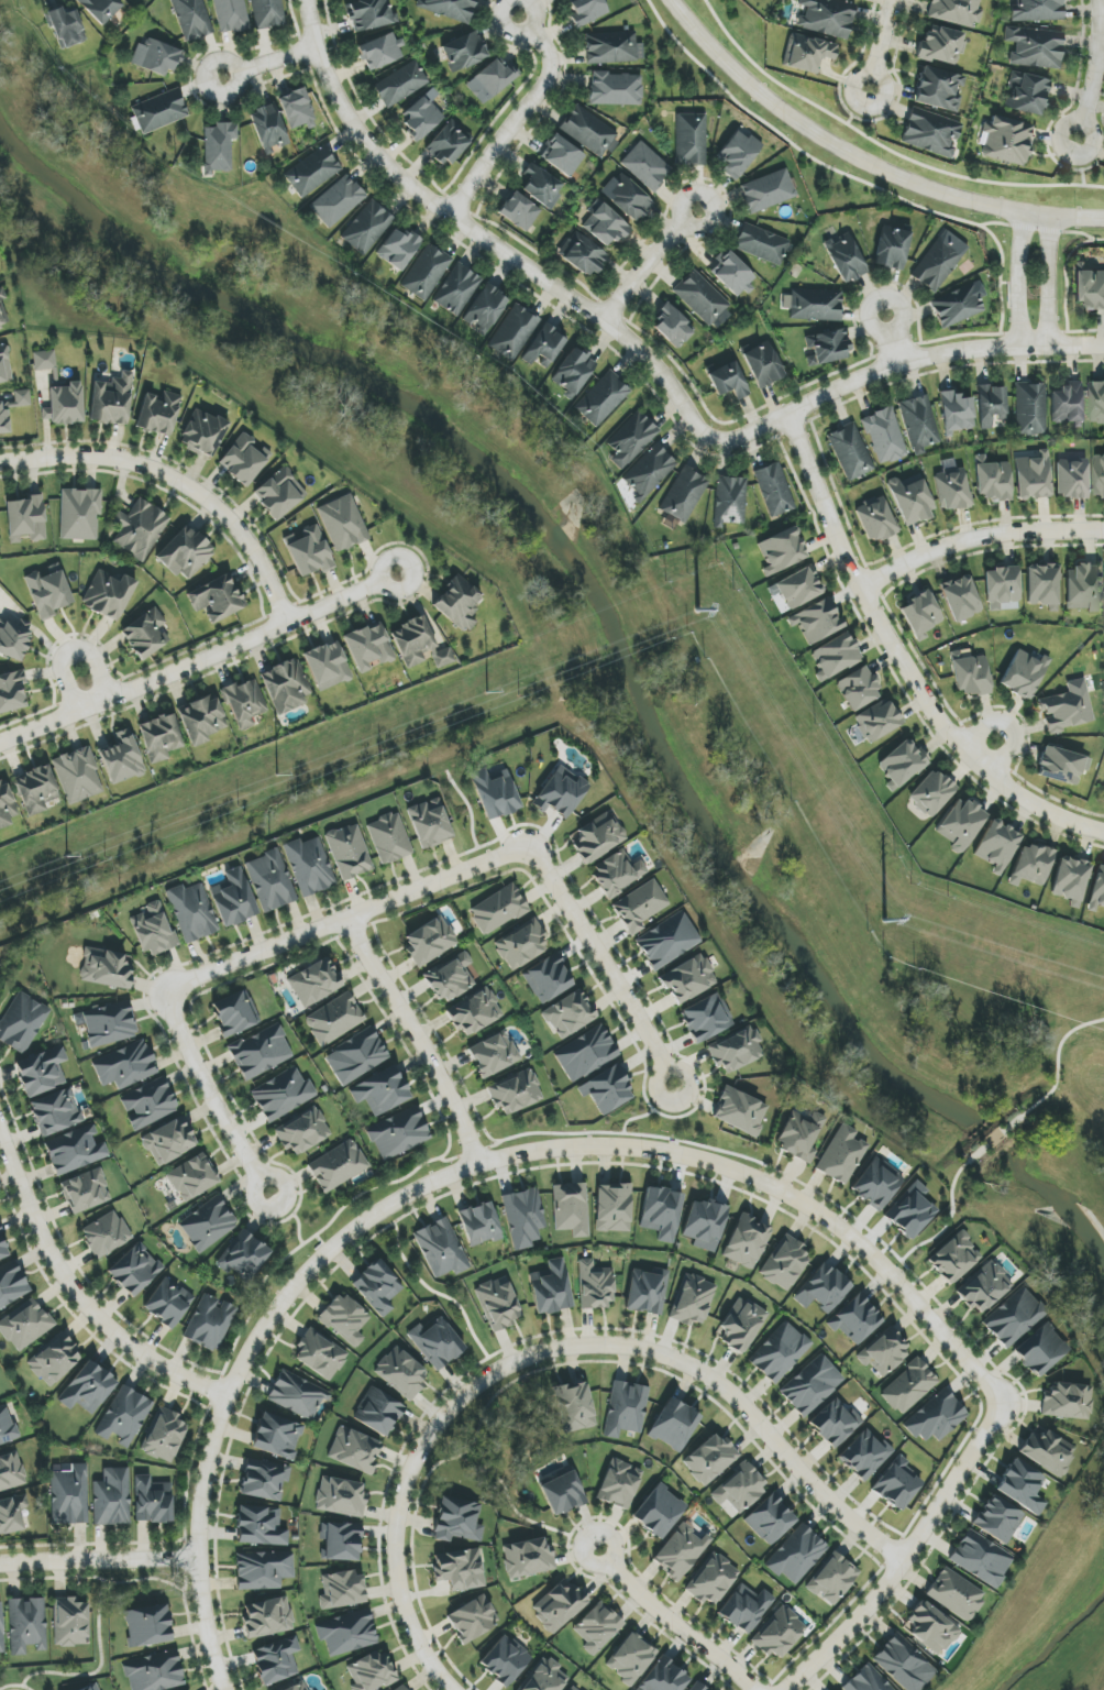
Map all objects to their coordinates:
building: (854, 0)
building: (101, 9)
building: (451, 9)
building: (1037, 10)
building: (587, 11)
building: (954, 12)
building: (267, 13)
building: (369, 14)
building: (231, 15)
building: (827, 17)
building: (191, 19)
building: (66, 26)
road: (883, 41)
building: (940, 45)
building: (1036, 47)
building: (612, 48)
building: (380, 52)
building: (464, 52)
building: (807, 53)
building: (156, 56)
road: (269, 61)
road: (1094, 70)
building: (492, 80)
building: (400, 84)
building: (616, 89)
building: (939, 89)
building: (1028, 94)
building: (297, 109)
building: (159, 111)
road: (518, 116)
building: (421, 117)
building: (268, 128)
building: (588, 131)
building: (931, 132)
building: (691, 139)
building: (1006, 140)
building: (448, 143)
building: (219, 147)
building: (738, 154)
building: (562, 156)
road: (862, 161)
building: (647, 166)
building: (312, 172)
building: (540, 186)
building: (768, 191)
building: (628, 198)
building: (336, 201)
building: (519, 211)
building: (608, 226)
building: (366, 227)
road: (487, 239)
building: (761, 244)
building: (893, 248)
building: (397, 249)
building: (585, 256)
building: (846, 259)
building: (940, 262)
road: (651, 263)
building: (424, 272)
building: (733, 275)
road: (1024, 283)
road: (1049, 283)
building: (1090, 289)
building: (702, 298)
building: (813, 305)
building: (958, 306)
building: (485, 308)
building: (2, 310)
building: (673, 327)
road: (890, 340)
building: (826, 348)
building: (44, 360)
road: (905, 361)
building: (4, 365)
building: (763, 365)
building: (575, 374)
building: (728, 381)
building: (22, 398)
building: (111, 399)
building: (601, 399)
building: (1096, 403)
building: (66, 404)
building: (1067, 404)
building: (991, 405)
building: (1030, 407)
building: (158, 413)
building: (957, 413)
building: (4, 418)
building: (919, 424)
building: (203, 434)
building: (884, 436)
building: (631, 440)
building: (850, 452)
building: (244, 459)
building: (650, 471)
building: (1099, 475)
building: (1034, 476)
building: (1072, 478)
road: (178, 481)
building: (993, 481)
building: (774, 490)
building: (952, 490)
building: (279, 494)
building: (684, 495)
building: (910, 500)
building: (730, 501)
building: (79, 514)
building: (26, 518)
building: (876, 520)
building: (343, 523)
building: (139, 529)
road: (978, 539)
building: (782, 551)
building: (186, 552)
building: (310, 552)
building: (1042, 585)
building: (798, 588)
building: (1001, 588)
building: (1082, 588)
building: (48, 593)
building: (108, 594)
building: (217, 599)
building: (961, 599)
building: (459, 604)
power tower: (697, 612)
building: (921, 613)
building: (817, 621)
building: (146, 634)
building: (13, 636)
building: (419, 645)
building: (368, 647)
road: (73, 651)
building: (836, 656)
road: (903, 660)
road: (197, 662)
building: (328, 666)
building: (970, 674)
building: (1026, 674)
building: (286, 685)
building: (859, 689)
building: (12, 692)
power tower: (486, 696)
building: (245, 703)
building: (1068, 707)
building: (202, 718)
building: (877, 721)
road: (1008, 725)
building: (161, 737)
building: (122, 758)
building: (902, 764)
building: (1062, 766)
building: (78, 775)
power tower: (276, 778)
building: (36, 789)
building: (561, 792)
building: (495, 793)
building: (931, 793)
building: (5, 805)
building: (429, 823)
building: (961, 824)
building: (598, 836)
building: (389, 838)
building: (997, 846)
building: (349, 852)
power tower: (67, 858)
building: (1031, 865)
building: (309, 866)
building: (617, 873)
building: (1071, 879)
building: (271, 881)
building: (1097, 891)
building: (233, 898)
building: (640, 907)
building: (498, 910)
building: (191, 912)
road: (347, 917)
power tower: (883, 923)
building: (153, 931)
building: (430, 941)
building: (667, 941)
building: (521, 945)
road: (605, 965)
building: (106, 968)
building: (452, 978)
building: (548, 979)
building: (687, 979)
building: (314, 983)
building: (475, 1012)
building: (235, 1013)
building: (570, 1014)
building: (706, 1018)
building: (334, 1019)
building: (21, 1022)
building: (109, 1024)
road: (419, 1036)
building: (736, 1050)
building: (261, 1052)
building: (586, 1053)
building: (494, 1054)
building: (356, 1056)
building: (125, 1066)
building: (41, 1071)
road: (219, 1089)
building: (607, 1090)
building: (380, 1091)
building: (516, 1093)
building: (283, 1095)
building: (148, 1104)
building: (56, 1111)
building: (740, 1111)
road: (644, 1116)
building: (302, 1131)
building: (398, 1134)
building: (801, 1135)
building: (168, 1141)
building: (75, 1150)
building: (841, 1155)
building: (338, 1166)
road: (460, 1170)
building: (192, 1177)
building: (876, 1184)
building: (86, 1190)
building: (612, 1208)
building: (571, 1209)
building: (910, 1211)
building: (661, 1212)
building: (523, 1217)
building: (208, 1225)
building: (479, 1225)
building: (705, 1225)
building: (106, 1234)
building: (746, 1241)
building: (2, 1249)
building: (441, 1249)
building: (243, 1256)
building: (954, 1258)
building: (784, 1263)
building: (134, 1270)
building: (12, 1284)
building: (595, 1286)
building: (378, 1287)
building: (984, 1287)
building: (551, 1288)
building: (823, 1290)
building: (648, 1291)
road: (75, 1292)
road: (434, 1293)
building: (693, 1301)
building: (168, 1303)
building: (499, 1303)
building: (1014, 1317)
building: (345, 1319)
building: (855, 1319)
building: (210, 1323)
building: (25, 1325)
building: (741, 1325)
building: (437, 1343)
road: (551, 1349)
building: (1040, 1350)
building: (781, 1352)
building: (884, 1352)
building: (320, 1354)
building: (54, 1360)
road: (553, 1367)
road: (651, 1368)
building: (401, 1373)
building: (810, 1385)
building: (909, 1387)
building: (88, 1389)
building: (297, 1394)
building: (1068, 1401)
building: (574, 1407)
building: (626, 1408)
building: (378, 1413)
building: (124, 1416)
building: (936, 1418)
building: (835, 1424)
building: (7, 1426)
building: (674, 1426)
building: (164, 1435)
building: (277, 1436)
building: (354, 1450)
building: (1048, 1451)
building: (865, 1455)
building: (709, 1459)
building: (11, 1471)
building: (264, 1480)
building: (619, 1484)
building: (897, 1484)
building: (1024, 1488)
building: (740, 1489)
building: (563, 1493)
building: (69, 1495)
building: (111, 1497)
building: (340, 1497)
building: (152, 1501)
road: (417, 1504)
building: (659, 1512)
building: (12, 1514)
road: (519, 1516)
building: (770, 1519)
building: (998, 1519)
building: (459, 1521)
building: (260, 1526)
building: (342, 1541)
building: (681, 1551)
road: (908, 1552)
building: (797, 1556)
building: (527, 1558)
building: (981, 1558)
road: (99, 1559)
building: (460, 1569)
building: (263, 1570)
building: (711, 1579)
building: (832, 1579)
building: (342, 1590)
building: (956, 1594)
building: (559, 1606)
building: (746, 1609)
building: (267, 1617)
building: (473, 1618)
road: (677, 1620)
building: (69, 1622)
road: (830, 1623)
building: (26, 1625)
building: (147, 1625)
building: (597, 1628)
building: (930, 1628)
building: (1, 1631)
building: (346, 1633)
building: (779, 1633)
building: (630, 1658)
building: (276, 1660)
building: (505, 1660)
building: (905, 1664)
building: (153, 1671)
building: (371, 1671)
building: (545, 1675)
building: (664, 1677)
building: (93, 1688)
building: (301, 1688)
building: (573, 1688)
building: (698, 1688)
building: (404, 1689)
building: (533, 1689)
building: (866, 1689)

